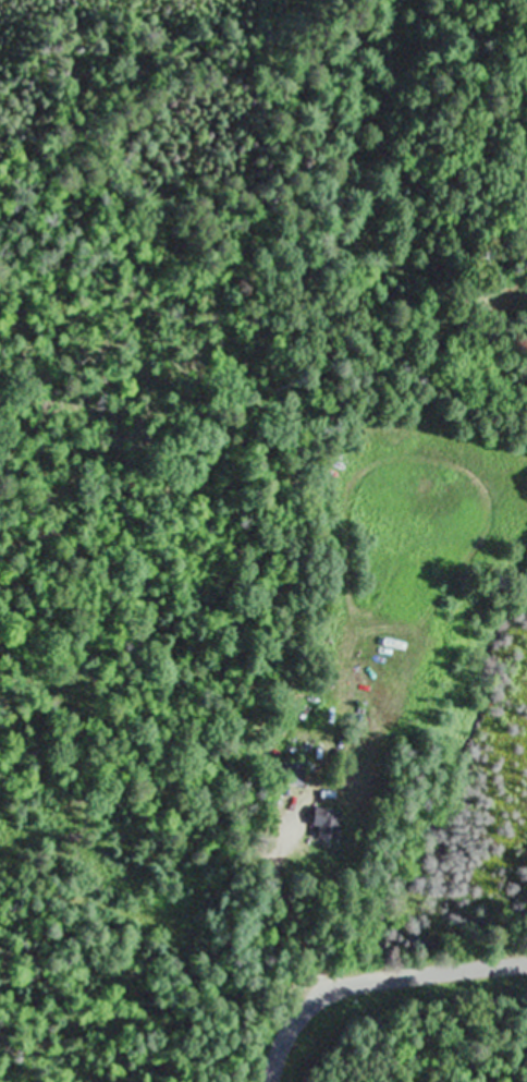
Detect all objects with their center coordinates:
building: (330, 823)
road: (373, 981)

